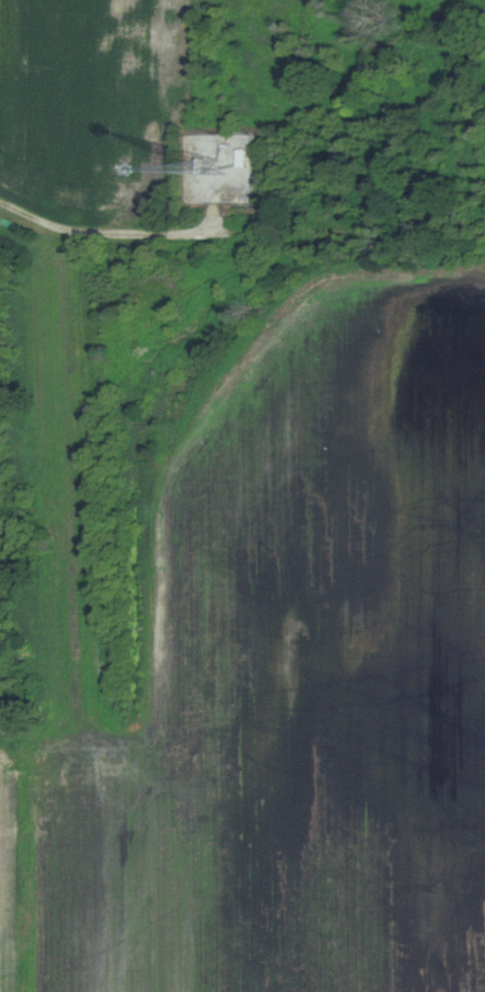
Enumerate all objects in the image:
building: (226, 162)
road: (104, 232)

